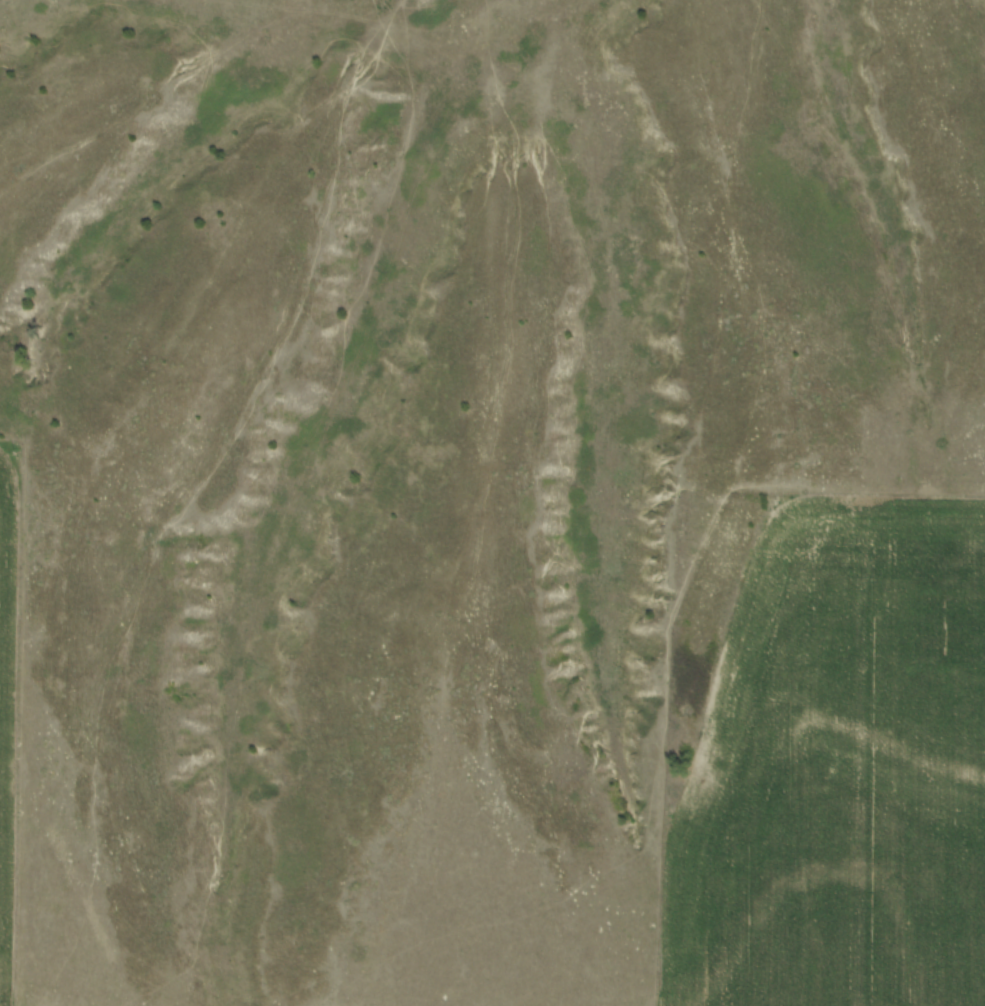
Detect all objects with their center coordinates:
crop: (841, 769)

